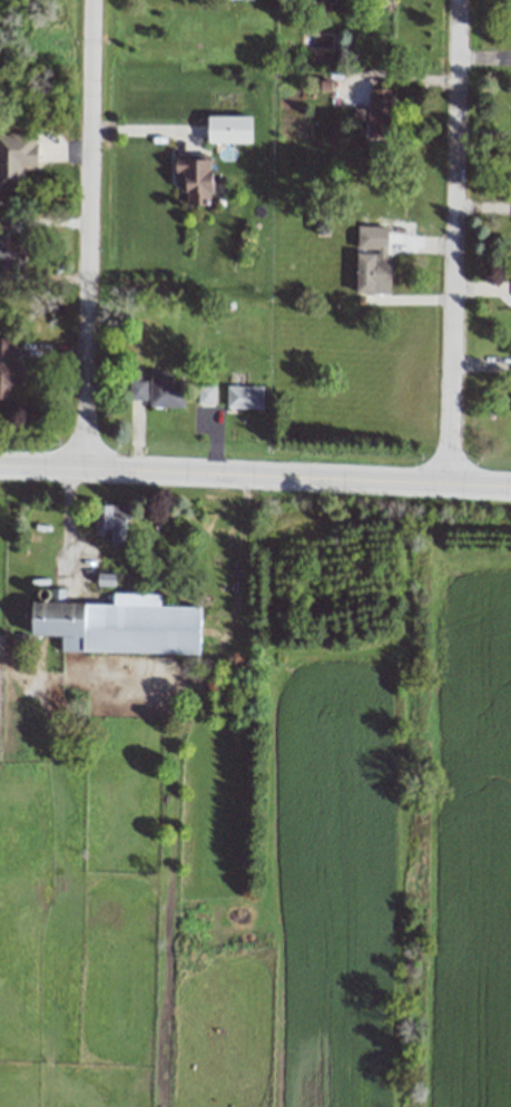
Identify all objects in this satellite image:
building: (323, 1)
building: (376, 114)
building: (228, 129)
building: (16, 160)
building: (195, 177)
road: (87, 238)
road: (454, 246)
building: (11, 249)
building: (372, 261)
building: (9, 376)
building: (157, 391)
building: (206, 395)
building: (244, 396)
road: (255, 484)
building: (110, 523)
road: (240, 577)
building: (105, 579)
building: (119, 625)
crop: (401, 859)

